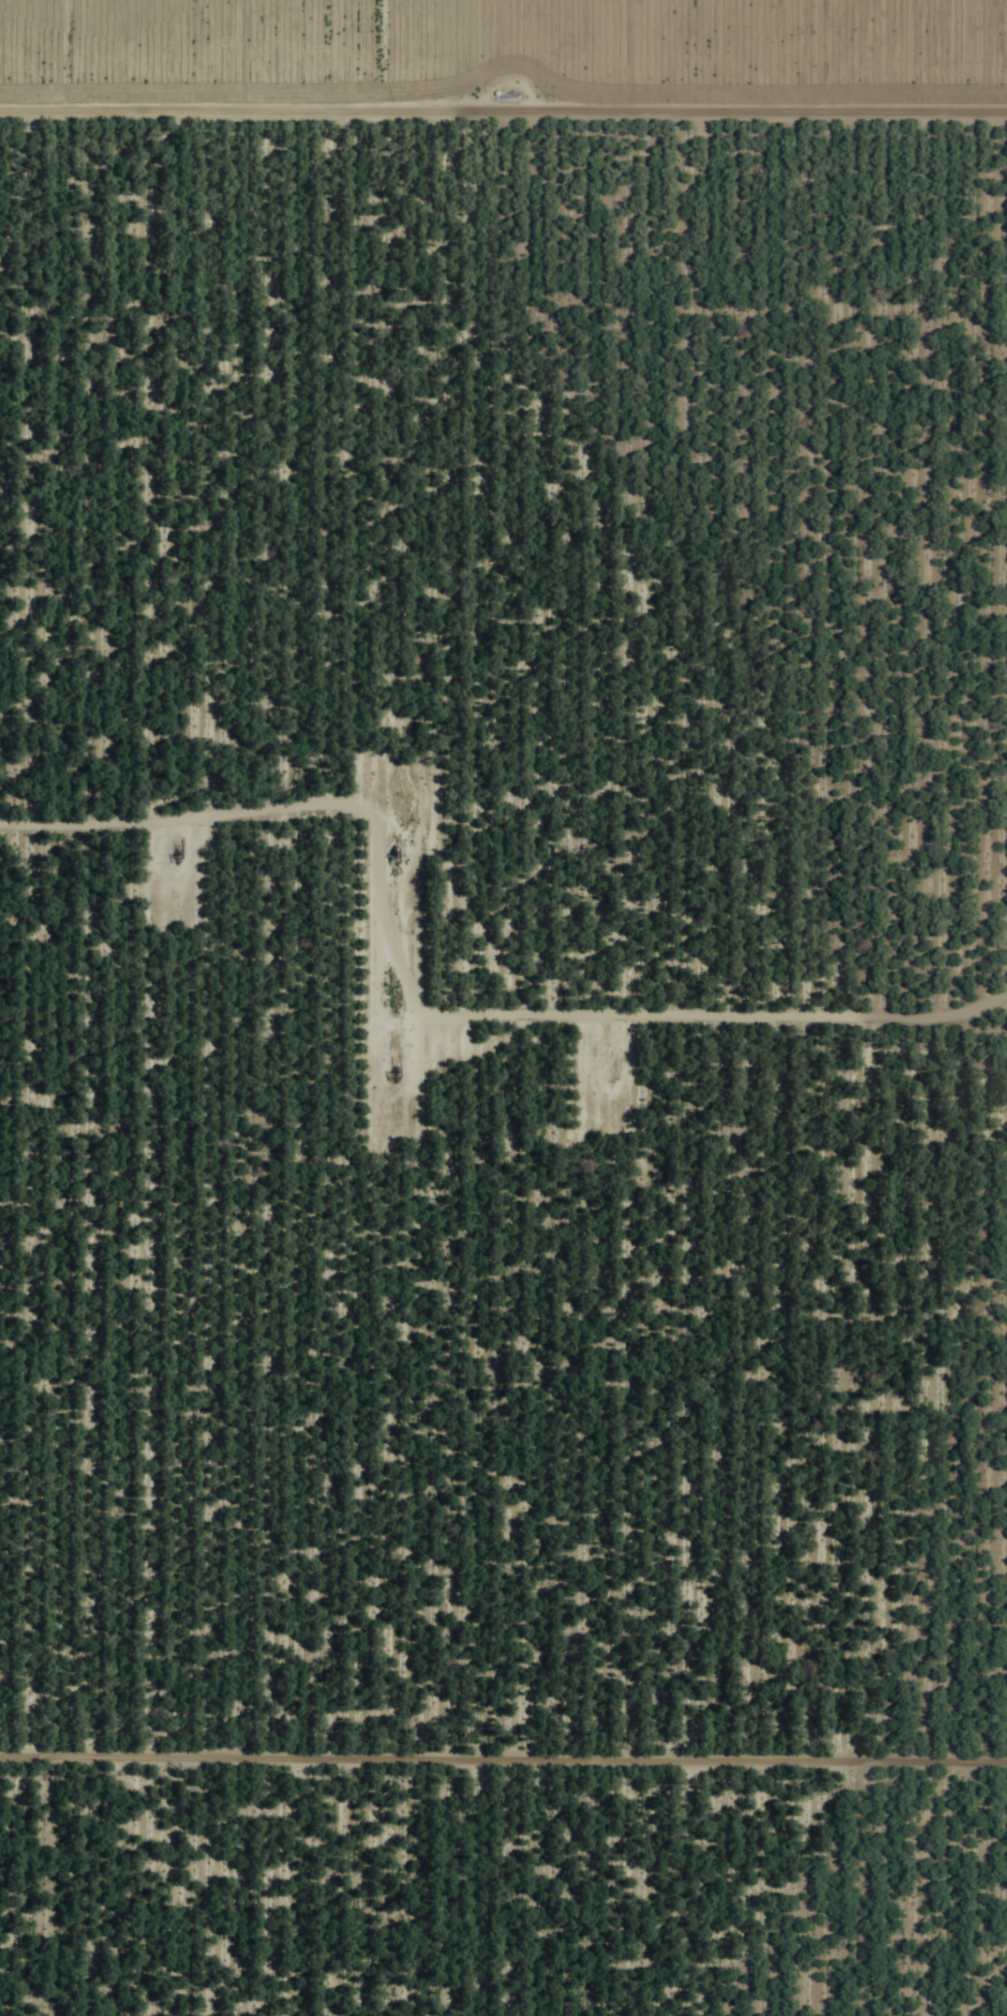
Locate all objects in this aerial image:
road: (503, 58)
crop: (505, 63)
road: (503, 1756)

